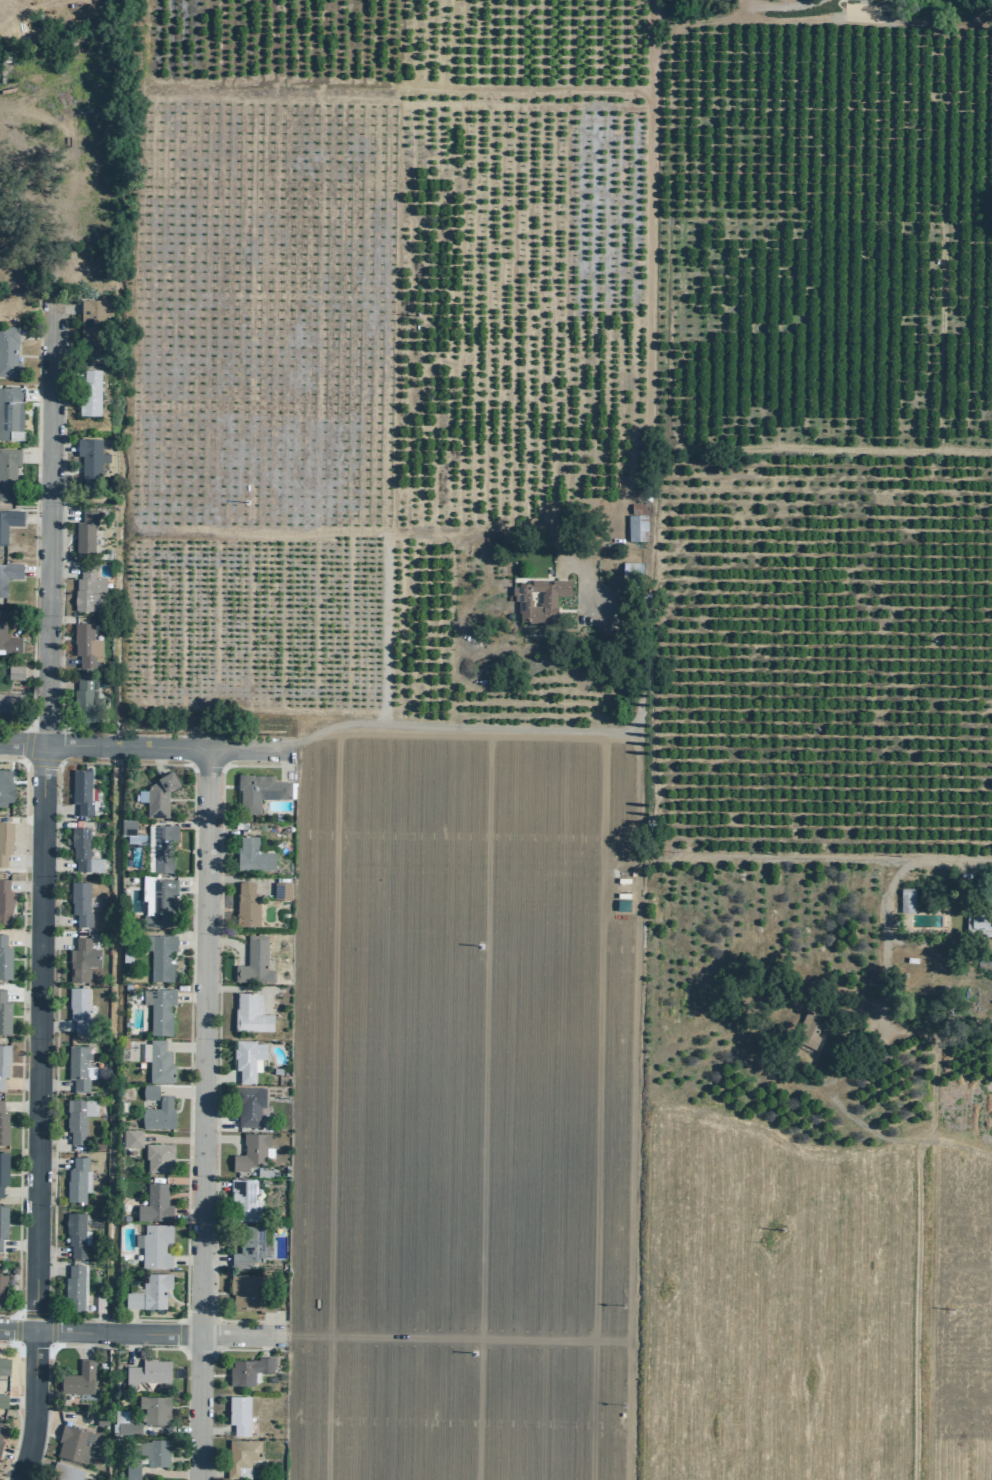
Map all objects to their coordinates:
road: (45, 2)
road: (789, 2)
road: (781, 6)
road: (647, 105)
road: (40, 228)
road: (64, 308)
building: (92, 323)
road: (34, 332)
building: (7, 351)
building: (88, 393)
road: (36, 394)
building: (10, 413)
road: (61, 447)
road: (839, 449)
road: (34, 456)
building: (89, 460)
building: (7, 472)
road: (63, 515)
road: (35, 518)
building: (8, 521)
road: (34, 526)
building: (636, 527)
building: (83, 533)
road: (34, 570)
building: (630, 573)
building: (7, 576)
building: (87, 590)
building: (546, 601)
road: (59, 625)
road: (383, 628)
building: (7, 639)
building: (84, 644)
road: (61, 660)
building: (14, 672)
road: (59, 682)
building: (87, 696)
building: (10, 702)
road: (329, 726)
street lamp: (22, 729)
street lamp: (173, 733)
road: (140, 746)
road: (158, 760)
road: (285, 763)
road: (189, 766)
building: (4, 787)
building: (258, 790)
building: (80, 791)
building: (158, 794)
road: (56, 809)
road: (191, 823)
building: (126, 826)
road: (217, 831)
building: (4, 841)
building: (162, 846)
building: (82, 849)
road: (656, 852)
building: (251, 854)
road: (23, 862)
road: (56, 864)
road: (238, 878)
road: (191, 885)
road: (23, 886)
road: (38, 889)
building: (280, 890)
building: (907, 900)
building: (4, 901)
building: (79, 902)
building: (245, 904)
building: (156, 905)
road: (886, 907)
road: (55, 919)
building: (979, 922)
street lamp: (216, 934)
road: (22, 939)
road: (55, 942)
road: (189, 942)
road: (228, 942)
building: (158, 954)
building: (125, 955)
building: (4, 959)
building: (80, 959)
building: (253, 960)
road: (376, 969)
road: (234, 989)
road: (21, 993)
road: (188, 995)
building: (77, 1008)
building: (159, 1010)
building: (249, 1014)
building: (3, 1015)
road: (53, 1025)
building: (808, 1026)
road: (20, 1034)
street lamp: (215, 1039)
road: (216, 1041)
road: (183, 1045)
building: (245, 1058)
building: (3, 1061)
building: (158, 1062)
building: (78, 1067)
road: (218, 1075)
road: (19, 1083)
road: (52, 1085)
building: (148, 1091)
road: (180, 1091)
building: (249, 1105)
road: (18, 1106)
building: (157, 1114)
road: (201, 1114)
building: (77, 1118)
road: (217, 1120)
building: (3, 1128)
building: (130, 1138)
road: (223, 1138)
road: (50, 1139)
road: (171, 1139)
building: (249, 1150)
building: (157, 1156)
road: (51, 1162)
building: (3, 1169)
street lamp: (213, 1176)
building: (76, 1179)
road: (213, 1184)
road: (17, 1191)
building: (240, 1196)
building: (154, 1203)
road: (185, 1212)
building: (3, 1221)
building: (75, 1234)
road: (16, 1244)
building: (153, 1244)
building: (247, 1246)
road: (50, 1251)
road: (213, 1260)
road: (48, 1267)
building: (72, 1287)
building: (1, 1290)
building: (148, 1291)
building: (250, 1291)
street lamp: (211, 1309)
road: (131, 1319)
road: (266, 1322)
road: (140, 1330)
road: (52, 1331)
street lamp: (8, 1342)
road: (85, 1343)
road: (264, 1344)
road: (54, 1346)
road: (132, 1347)
road: (245, 1348)
building: (3, 1365)
building: (247, 1369)
building: (146, 1371)
building: (77, 1378)
building: (2, 1400)
road: (15, 1407)
building: (153, 1408)
building: (238, 1413)
building: (100, 1418)
building: (0, 1427)
building: (127, 1427)
road: (214, 1429)
road: (168, 1430)
building: (0, 1441)
building: (73, 1442)
building: (153, 1450)
building: (243, 1455)
building: (130, 1470)
building: (65, 1471)
road: (168, 1473)

